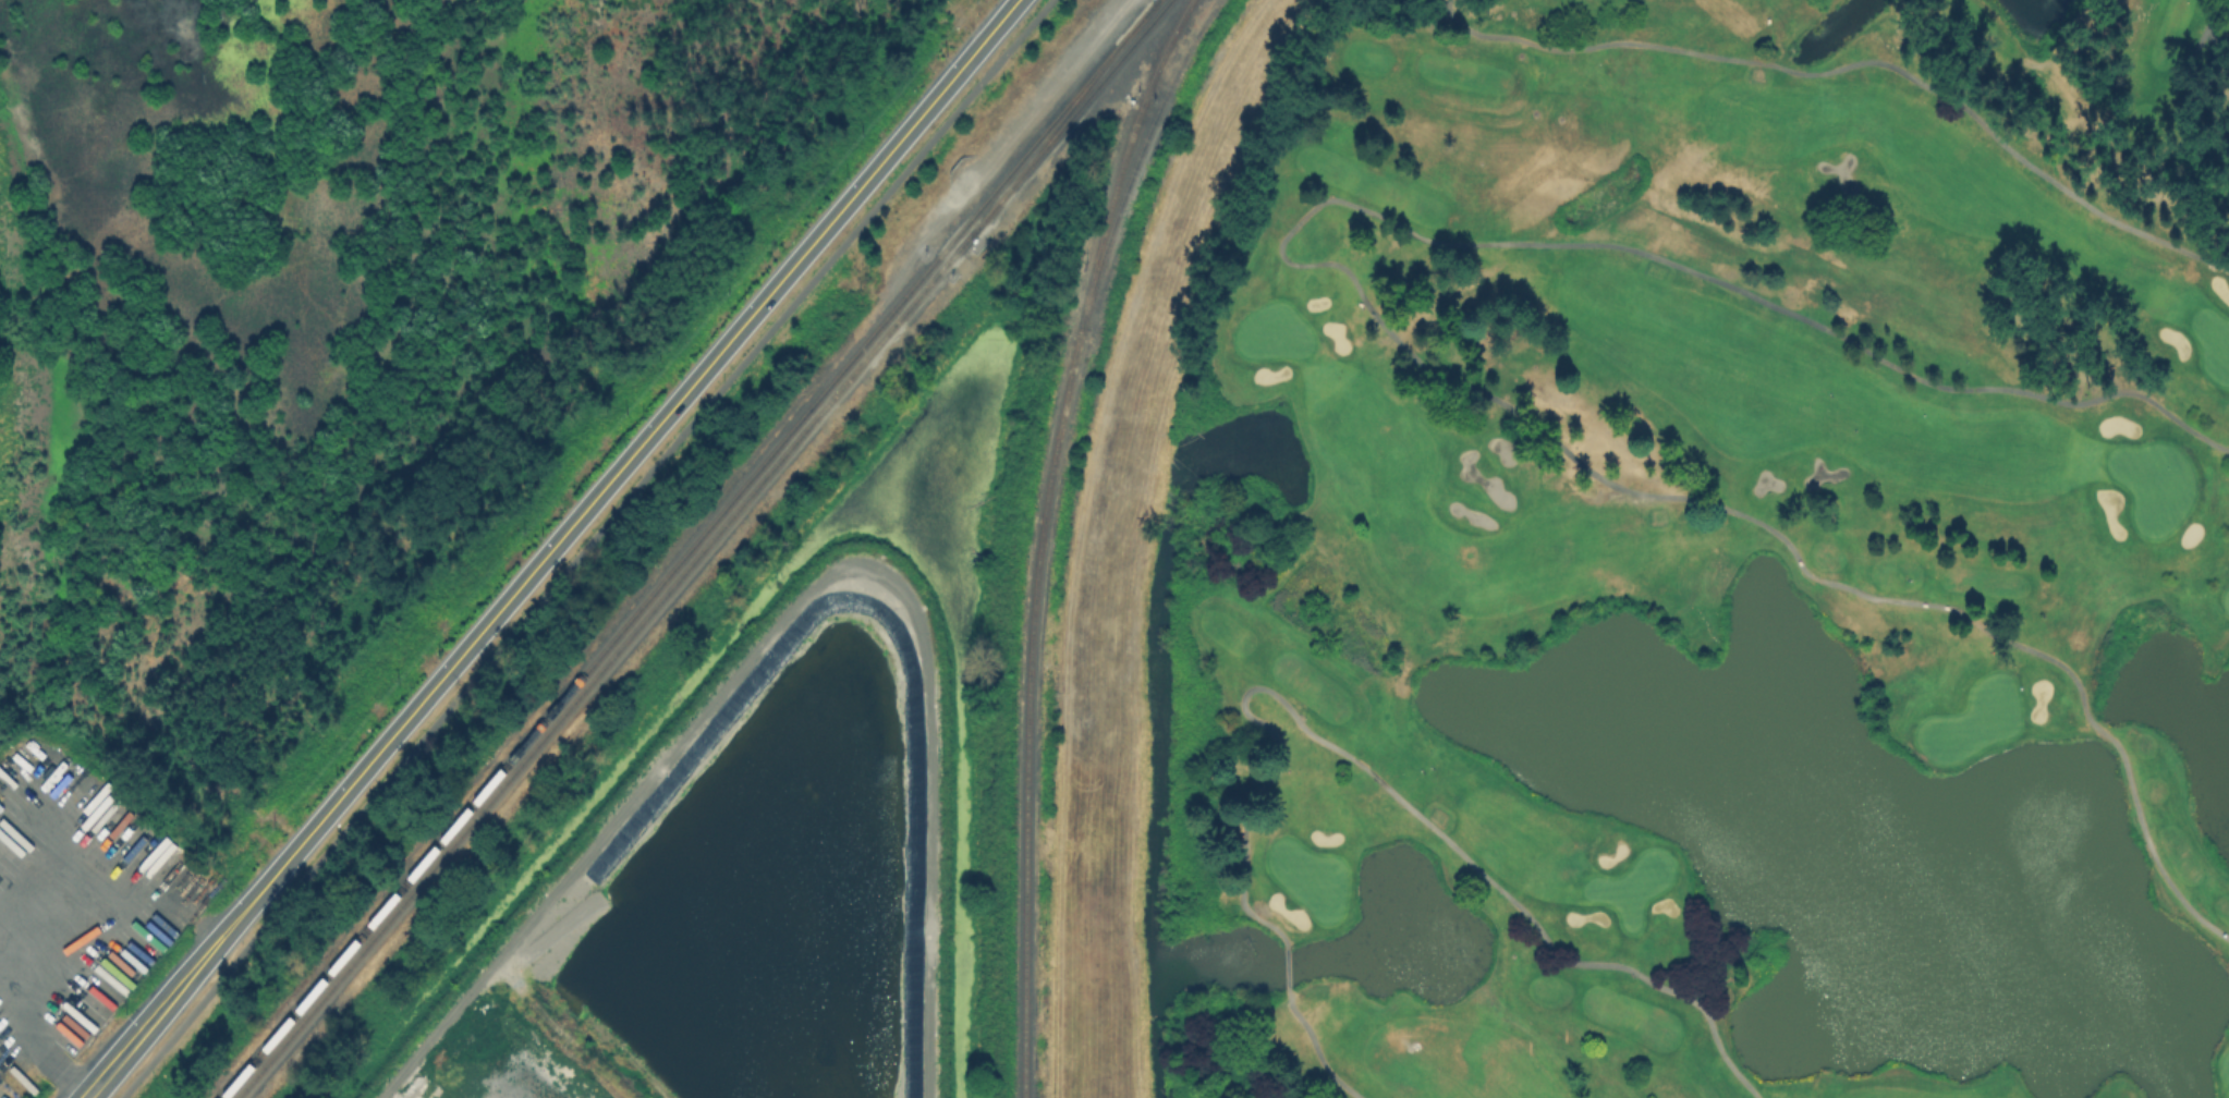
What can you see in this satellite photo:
railway: (1195, 30)
road: (1856, 63)
railway: (1062, 115)
railway: (1069, 115)
railway: (1124, 192)
road: (1364, 295)
road: (1077, 533)
railway: (1039, 537)
road: (585, 547)
road: (552, 548)
railway: (687, 549)
park: (1671, 563)
railway: (602, 664)
road: (1397, 795)
wastewater plant: (733, 882)
road: (1287, 966)
road: (37, 1029)
road: (1316, 1048)

